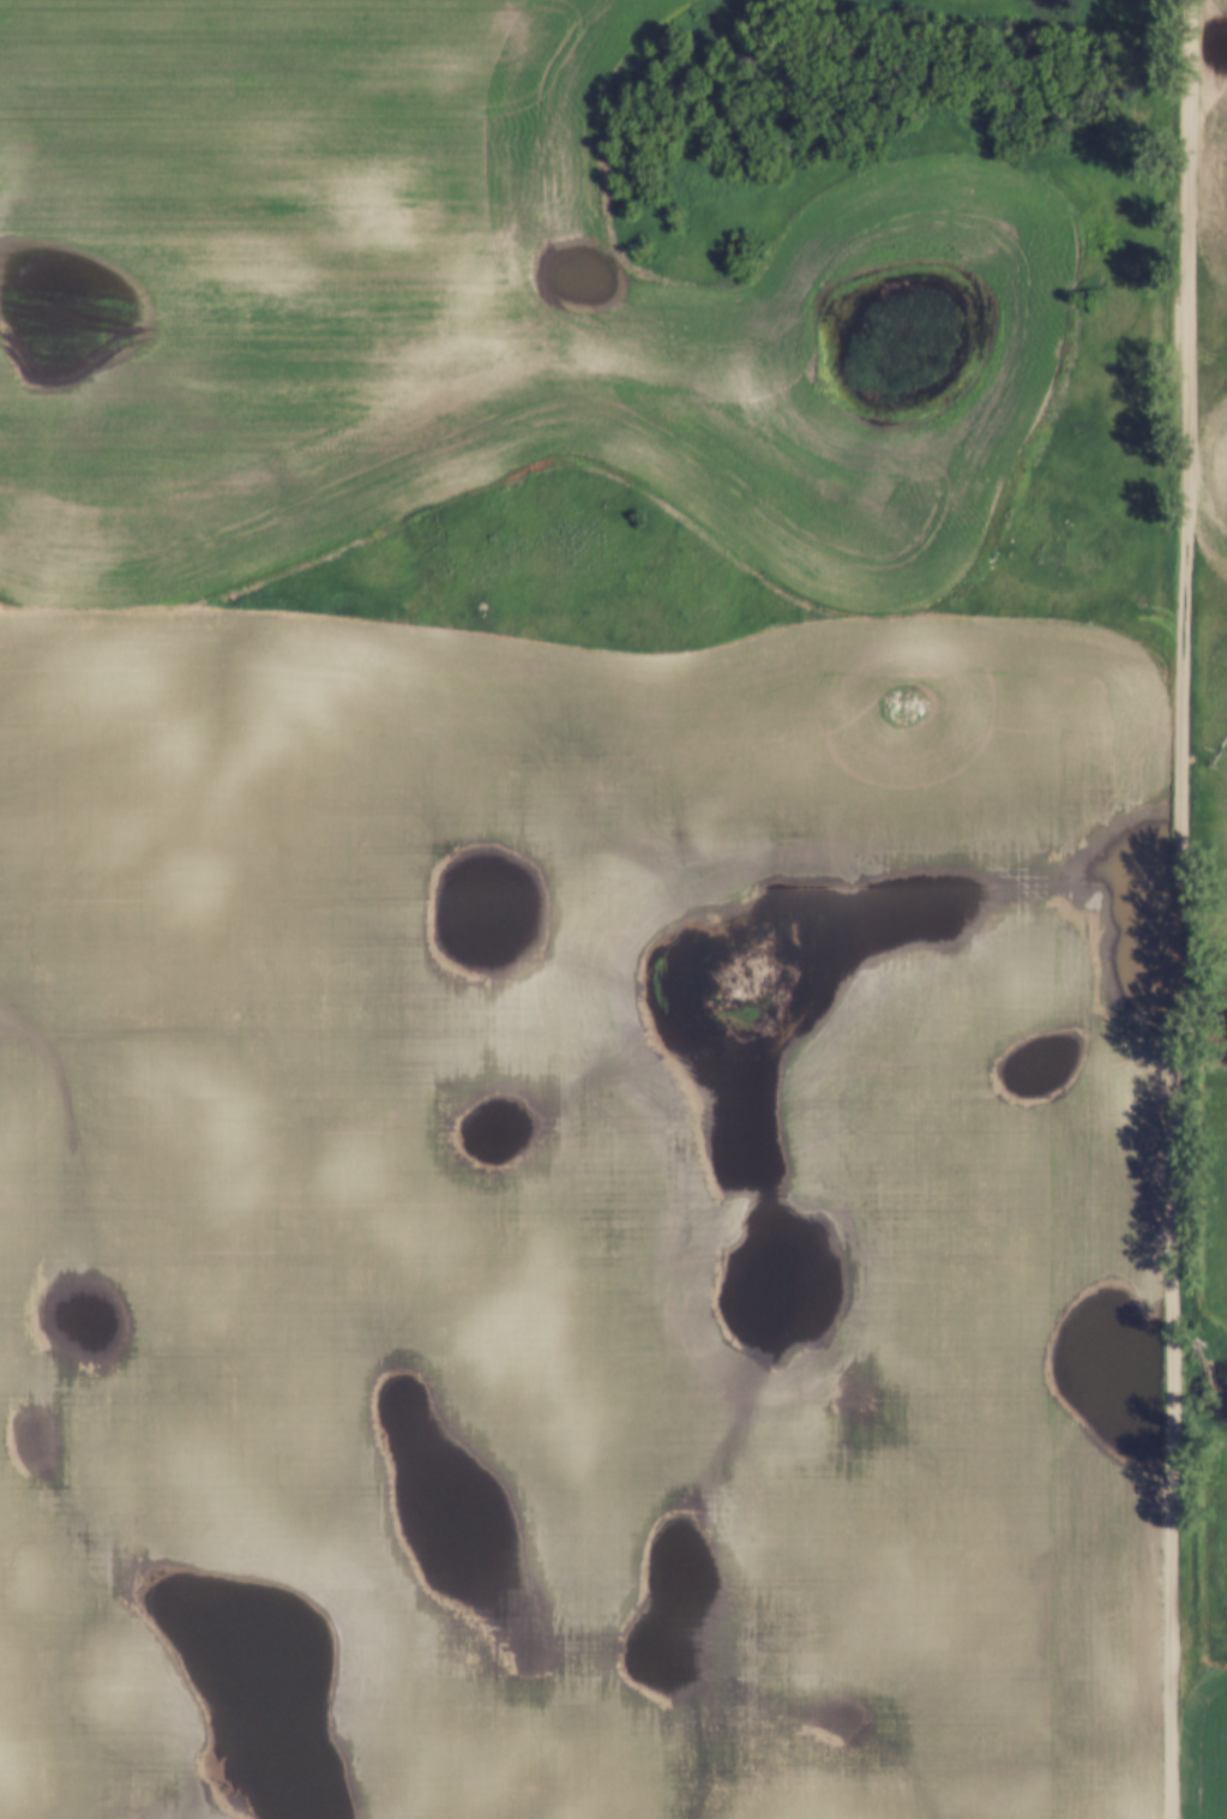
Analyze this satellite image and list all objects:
road: (1179, 909)

